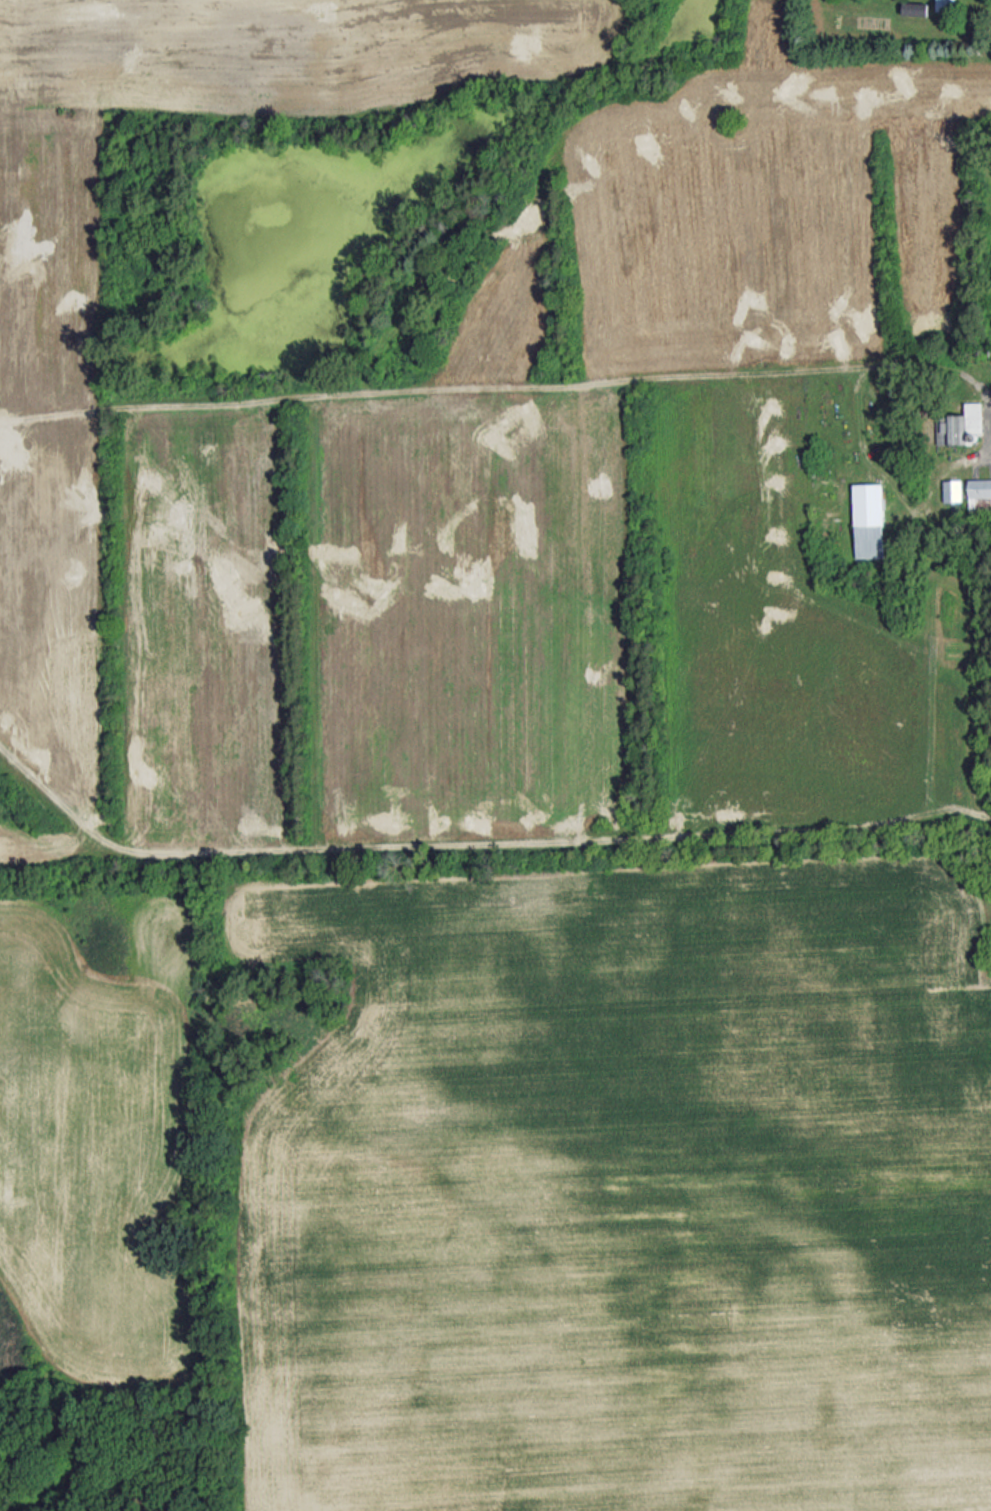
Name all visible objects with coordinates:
building: (945, 5)
building: (915, 8)
building: (963, 425)
building: (953, 489)
building: (980, 492)
building: (869, 520)

